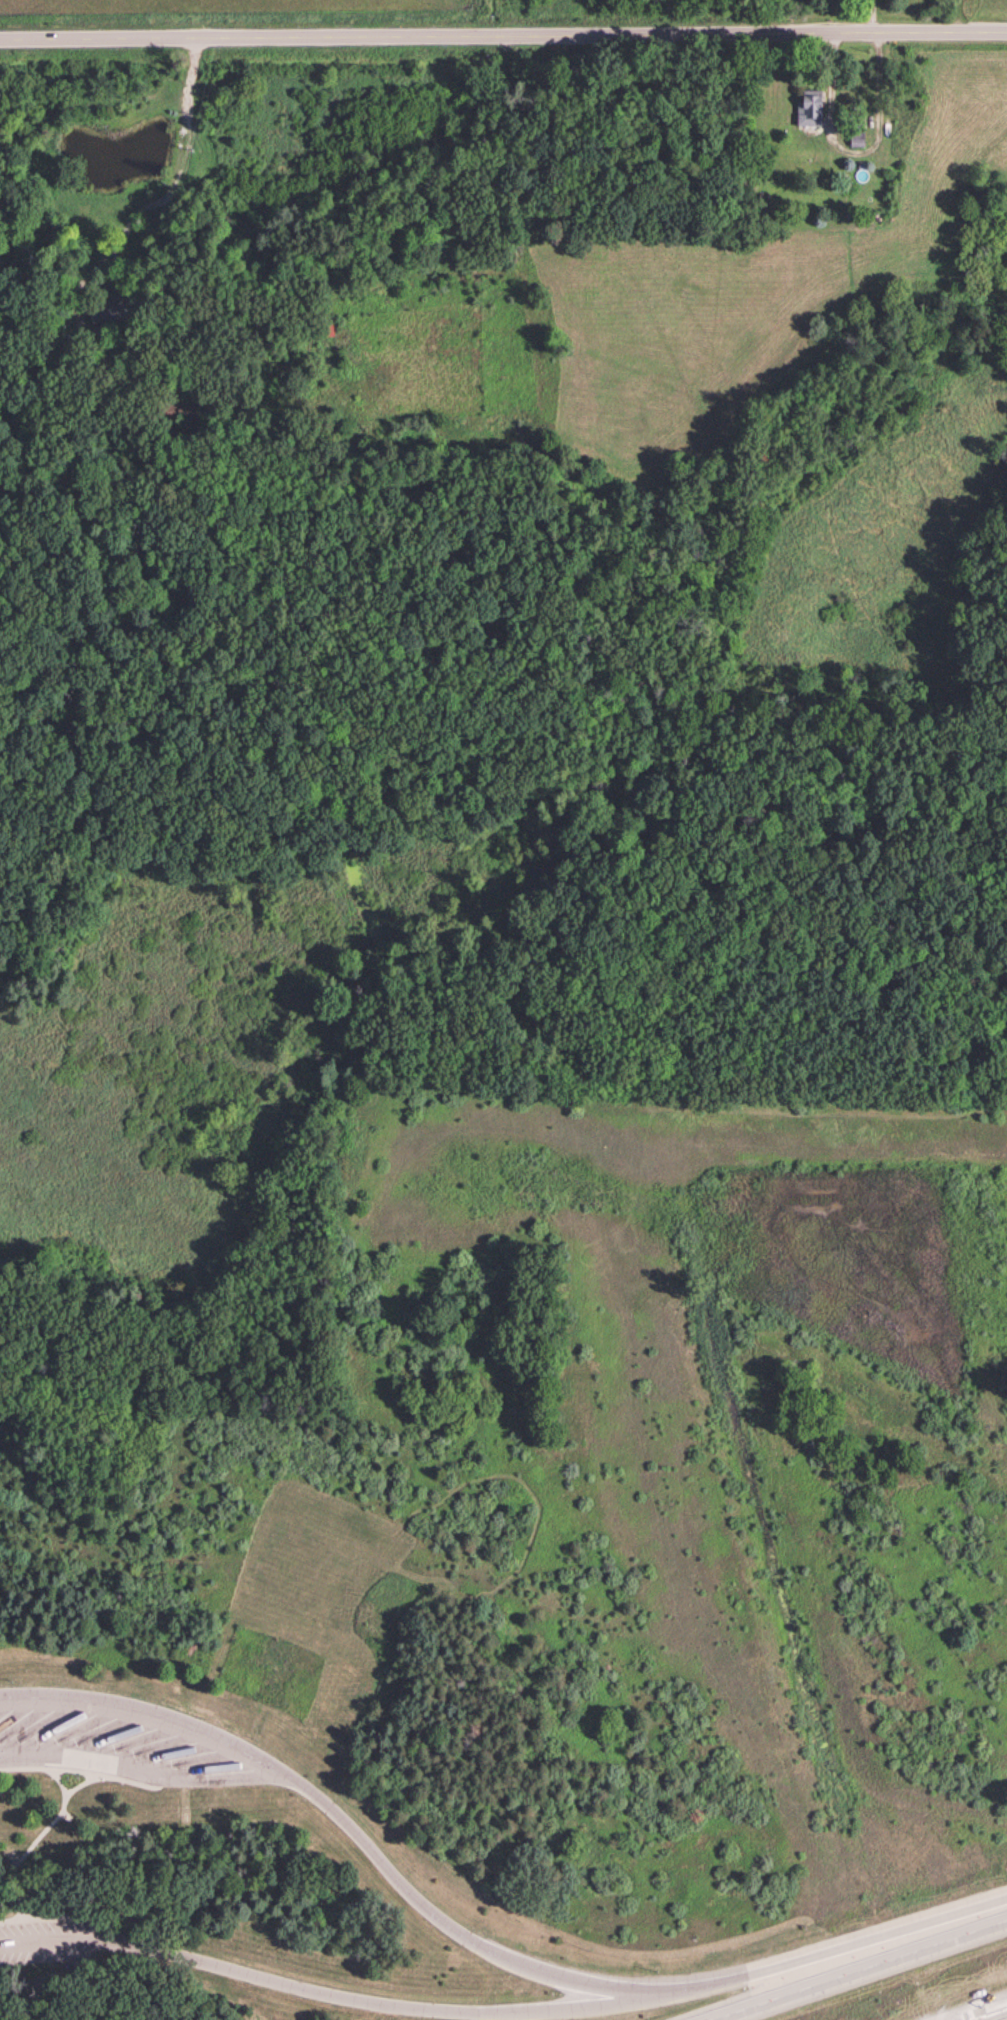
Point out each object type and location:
road: (503, 39)
road: (855, 153)
road: (192, 183)
road: (152, 1710)
parking lot: (123, 1741)
road: (78, 1775)
road: (61, 1783)
road: (48, 1828)
road: (373, 1846)
road: (17, 1897)
road: (56, 1917)
parking lot: (64, 1944)
road: (867, 1950)
road: (867, 1973)
road: (361, 2000)
road: (998, 2017)

